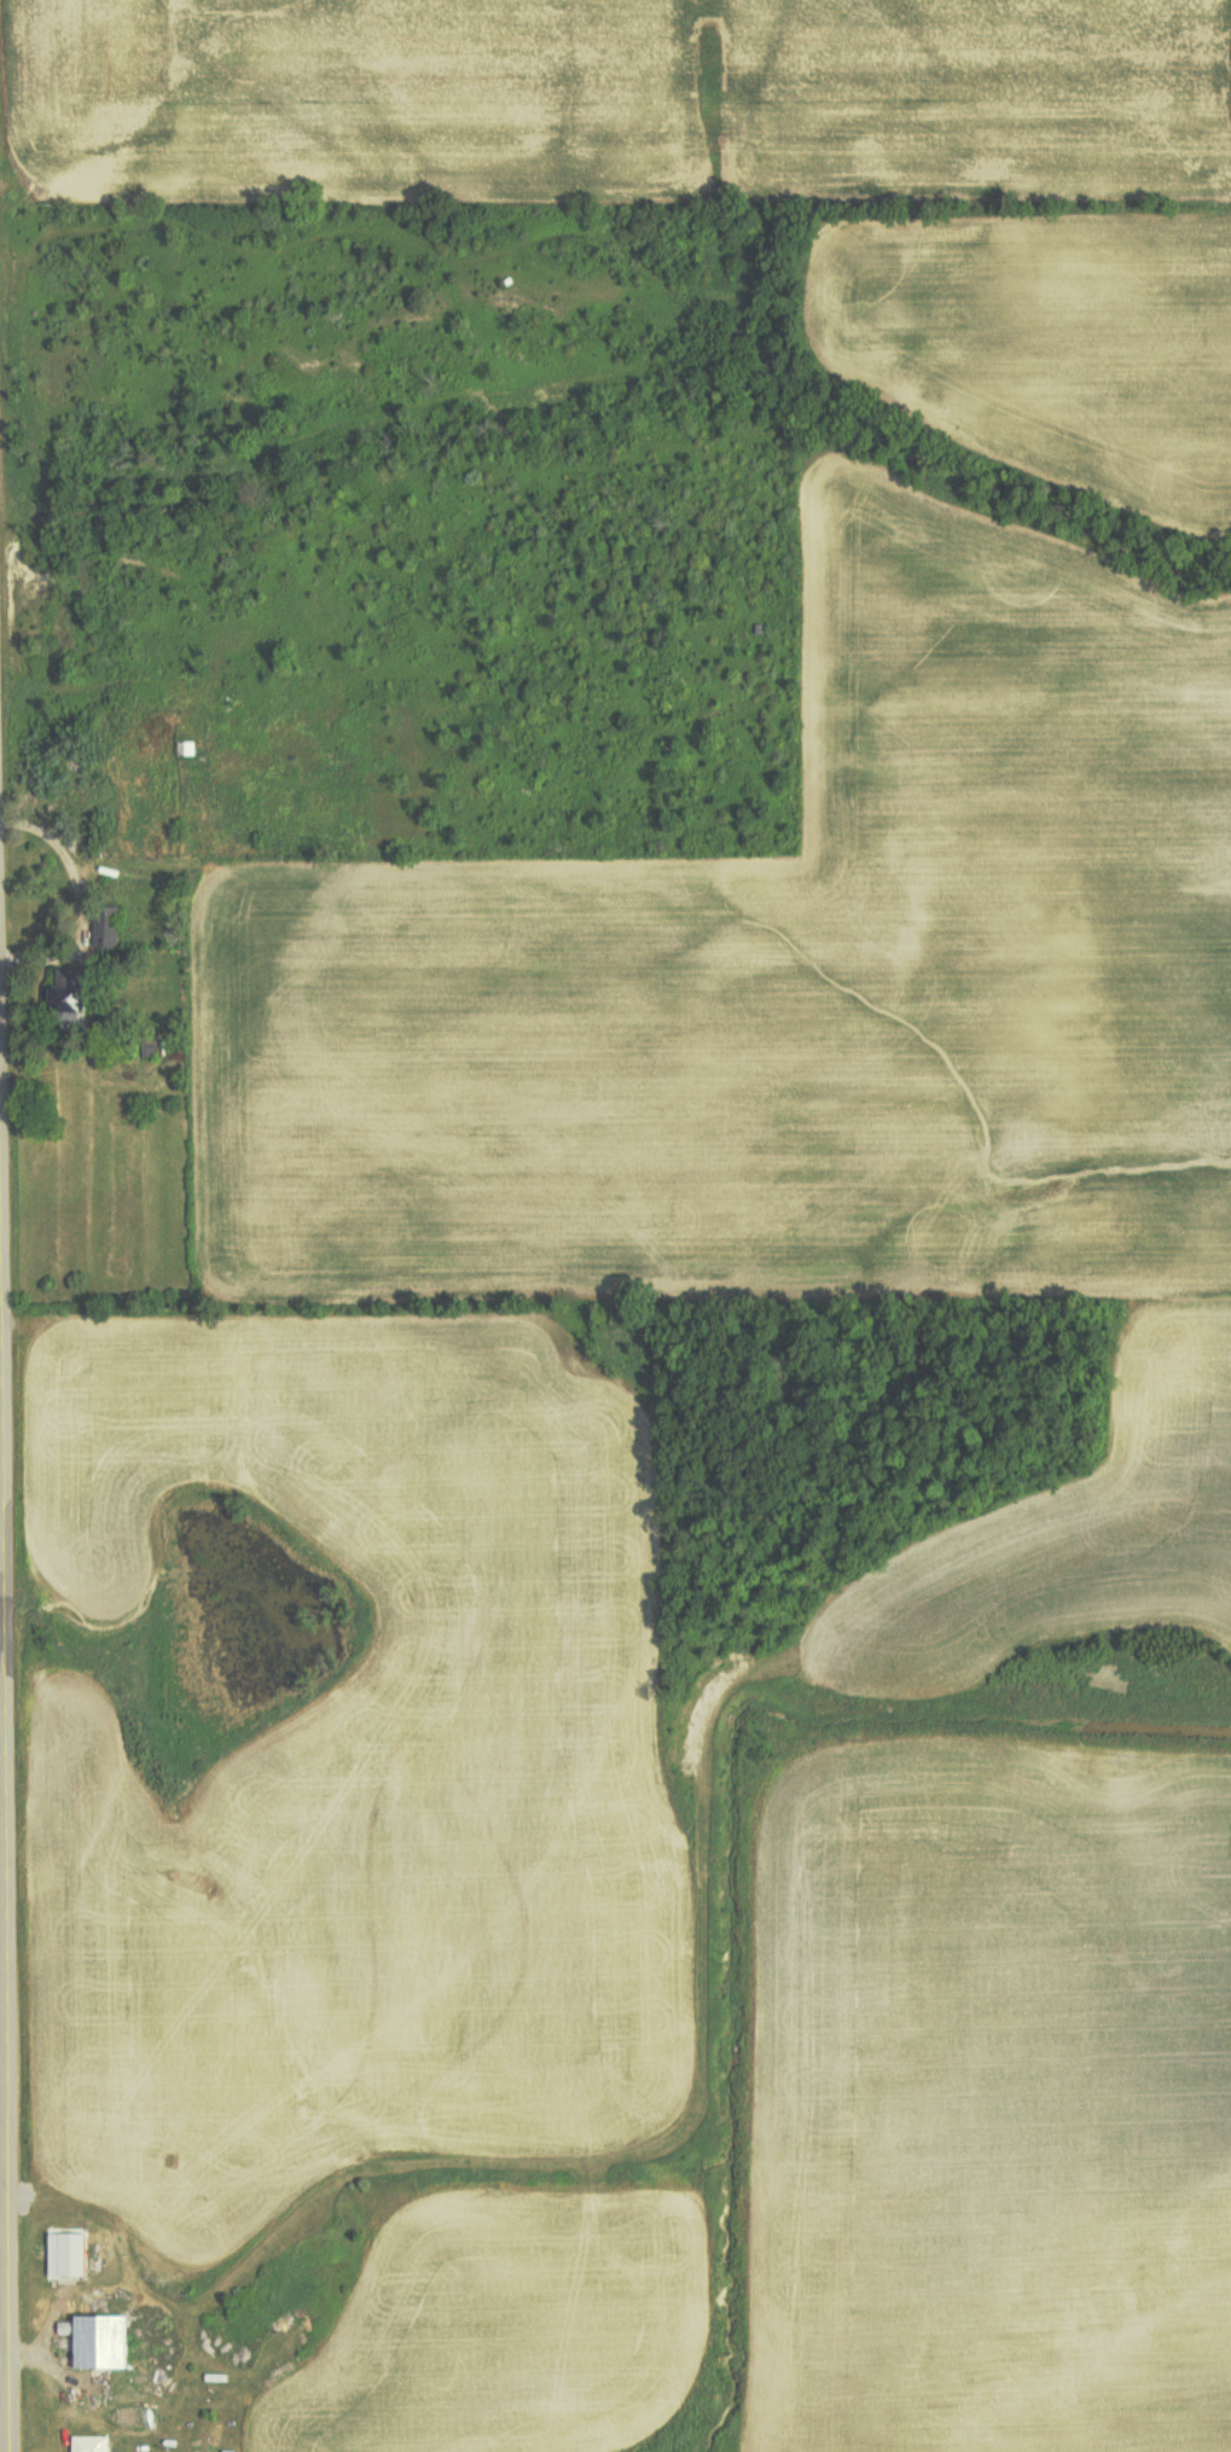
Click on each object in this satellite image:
crop: (646, 88)
crop: (1046, 329)
crop: (788, 981)
crop: (1067, 1569)
crop: (362, 1786)
road: (4, 1858)
crop: (992, 2101)
crop: (506, 2335)
building: (100, 2341)
building: (92, 2444)

